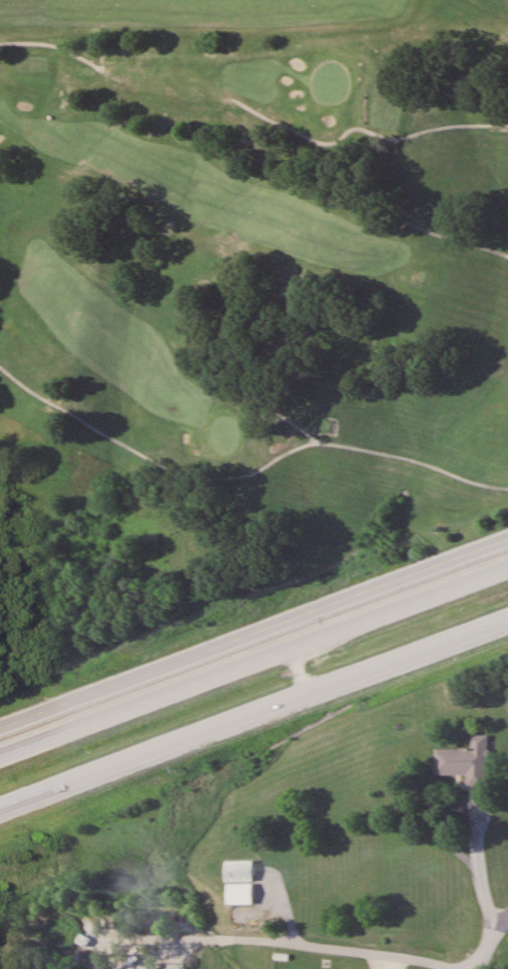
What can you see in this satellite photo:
park: (261, 264)
road: (254, 635)
road: (254, 661)
road: (254, 715)
building: (464, 762)
building: (238, 882)
road: (491, 942)

